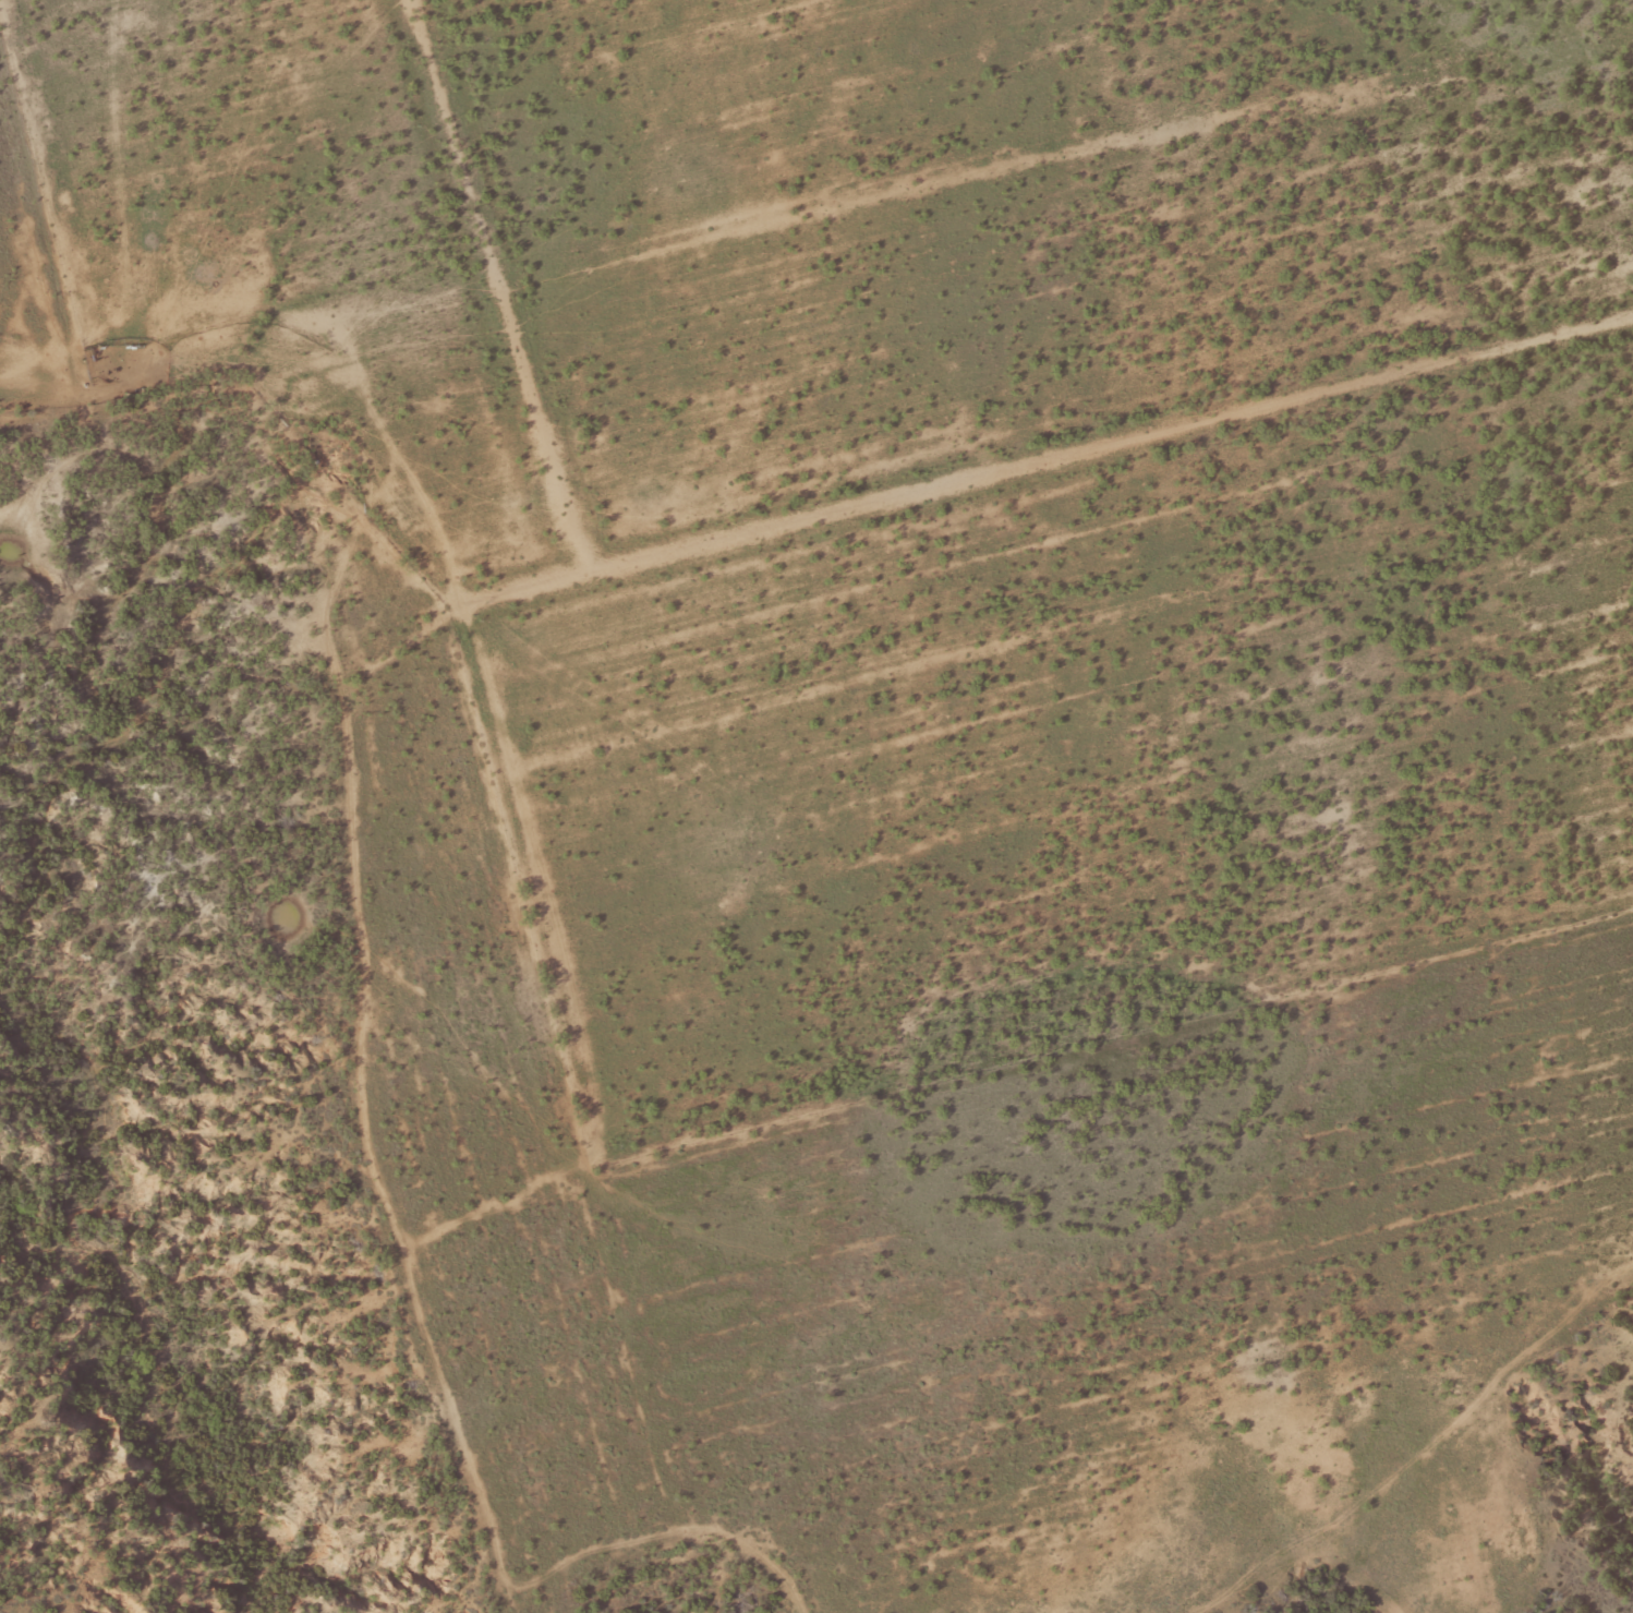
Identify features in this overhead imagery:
road: (872, 192)
road: (610, 1172)
road: (1273, 1465)

